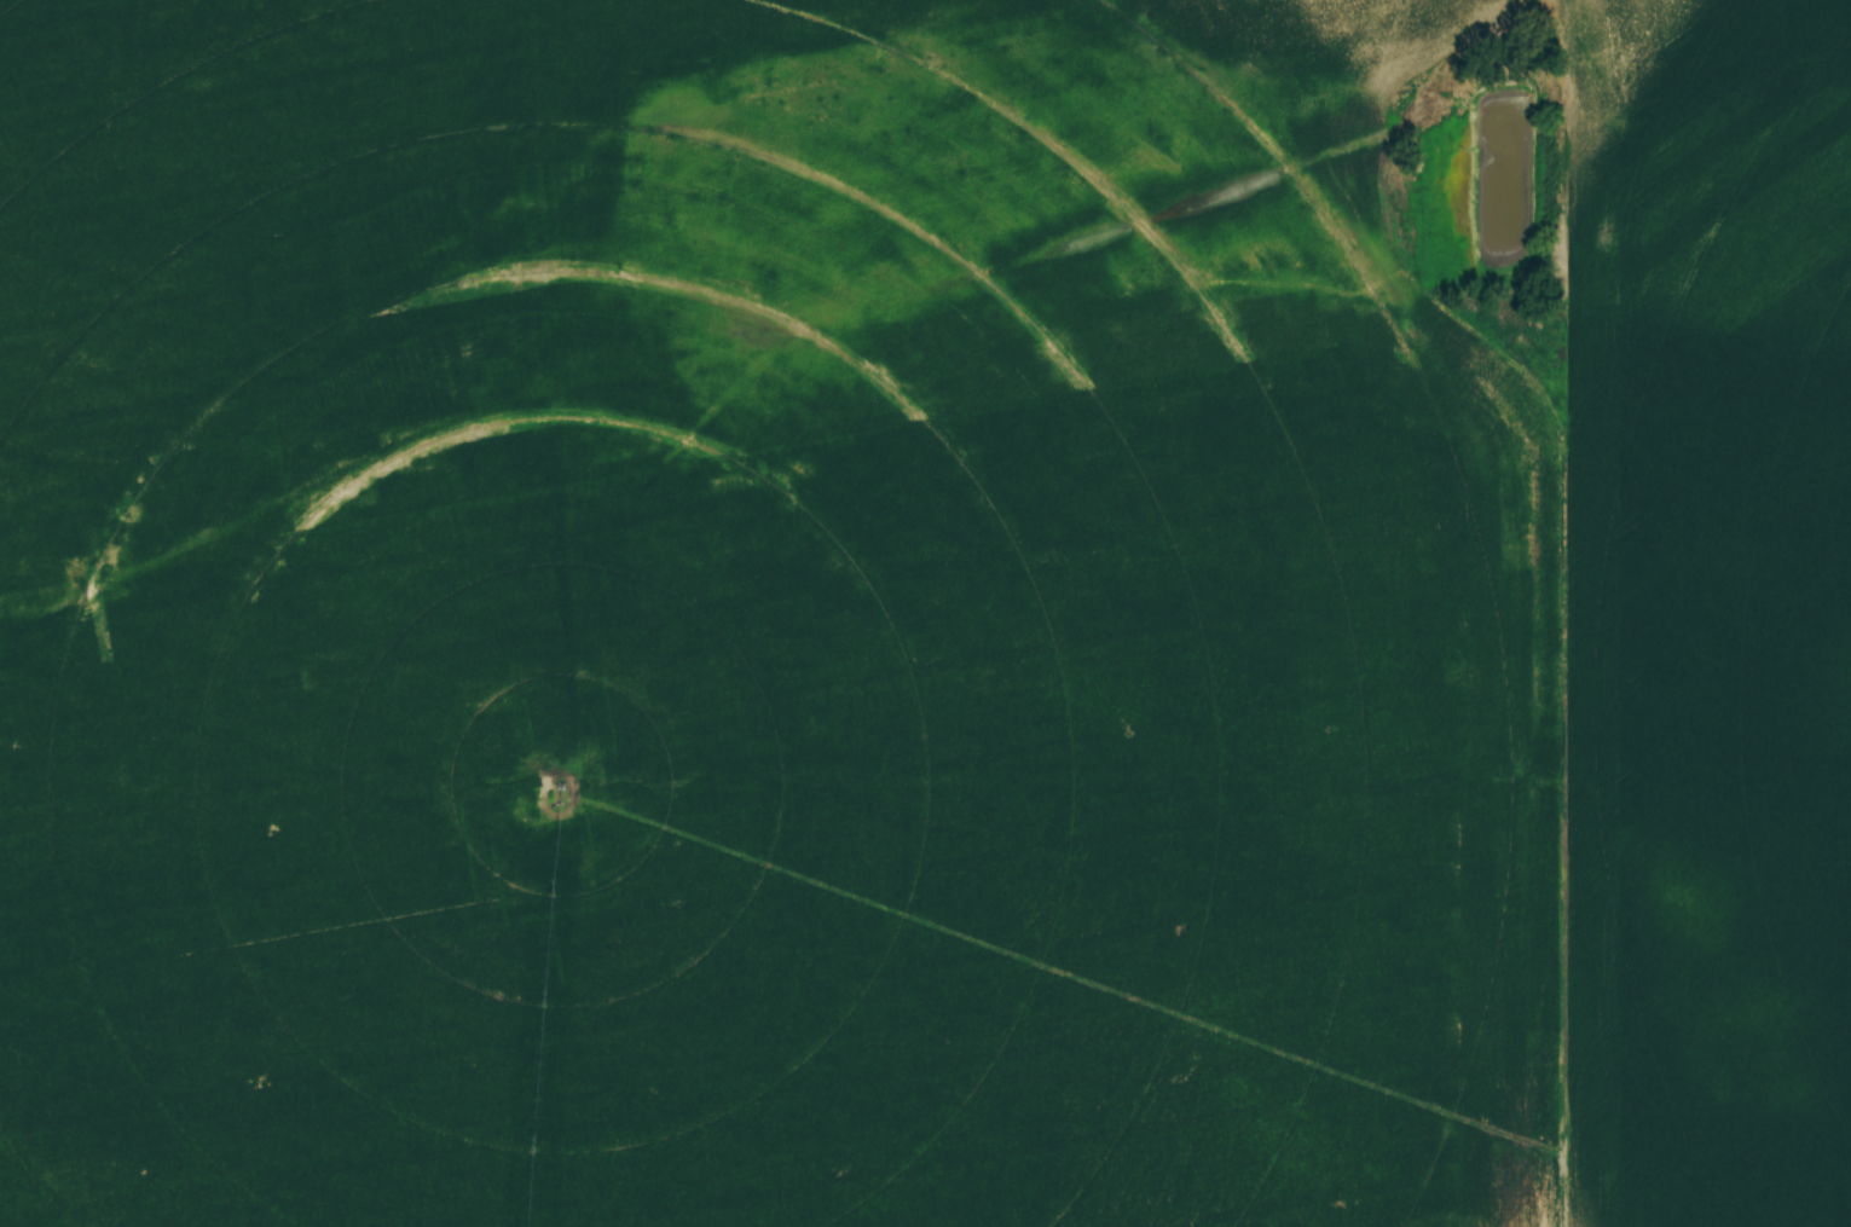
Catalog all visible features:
crop: (925, 613)

